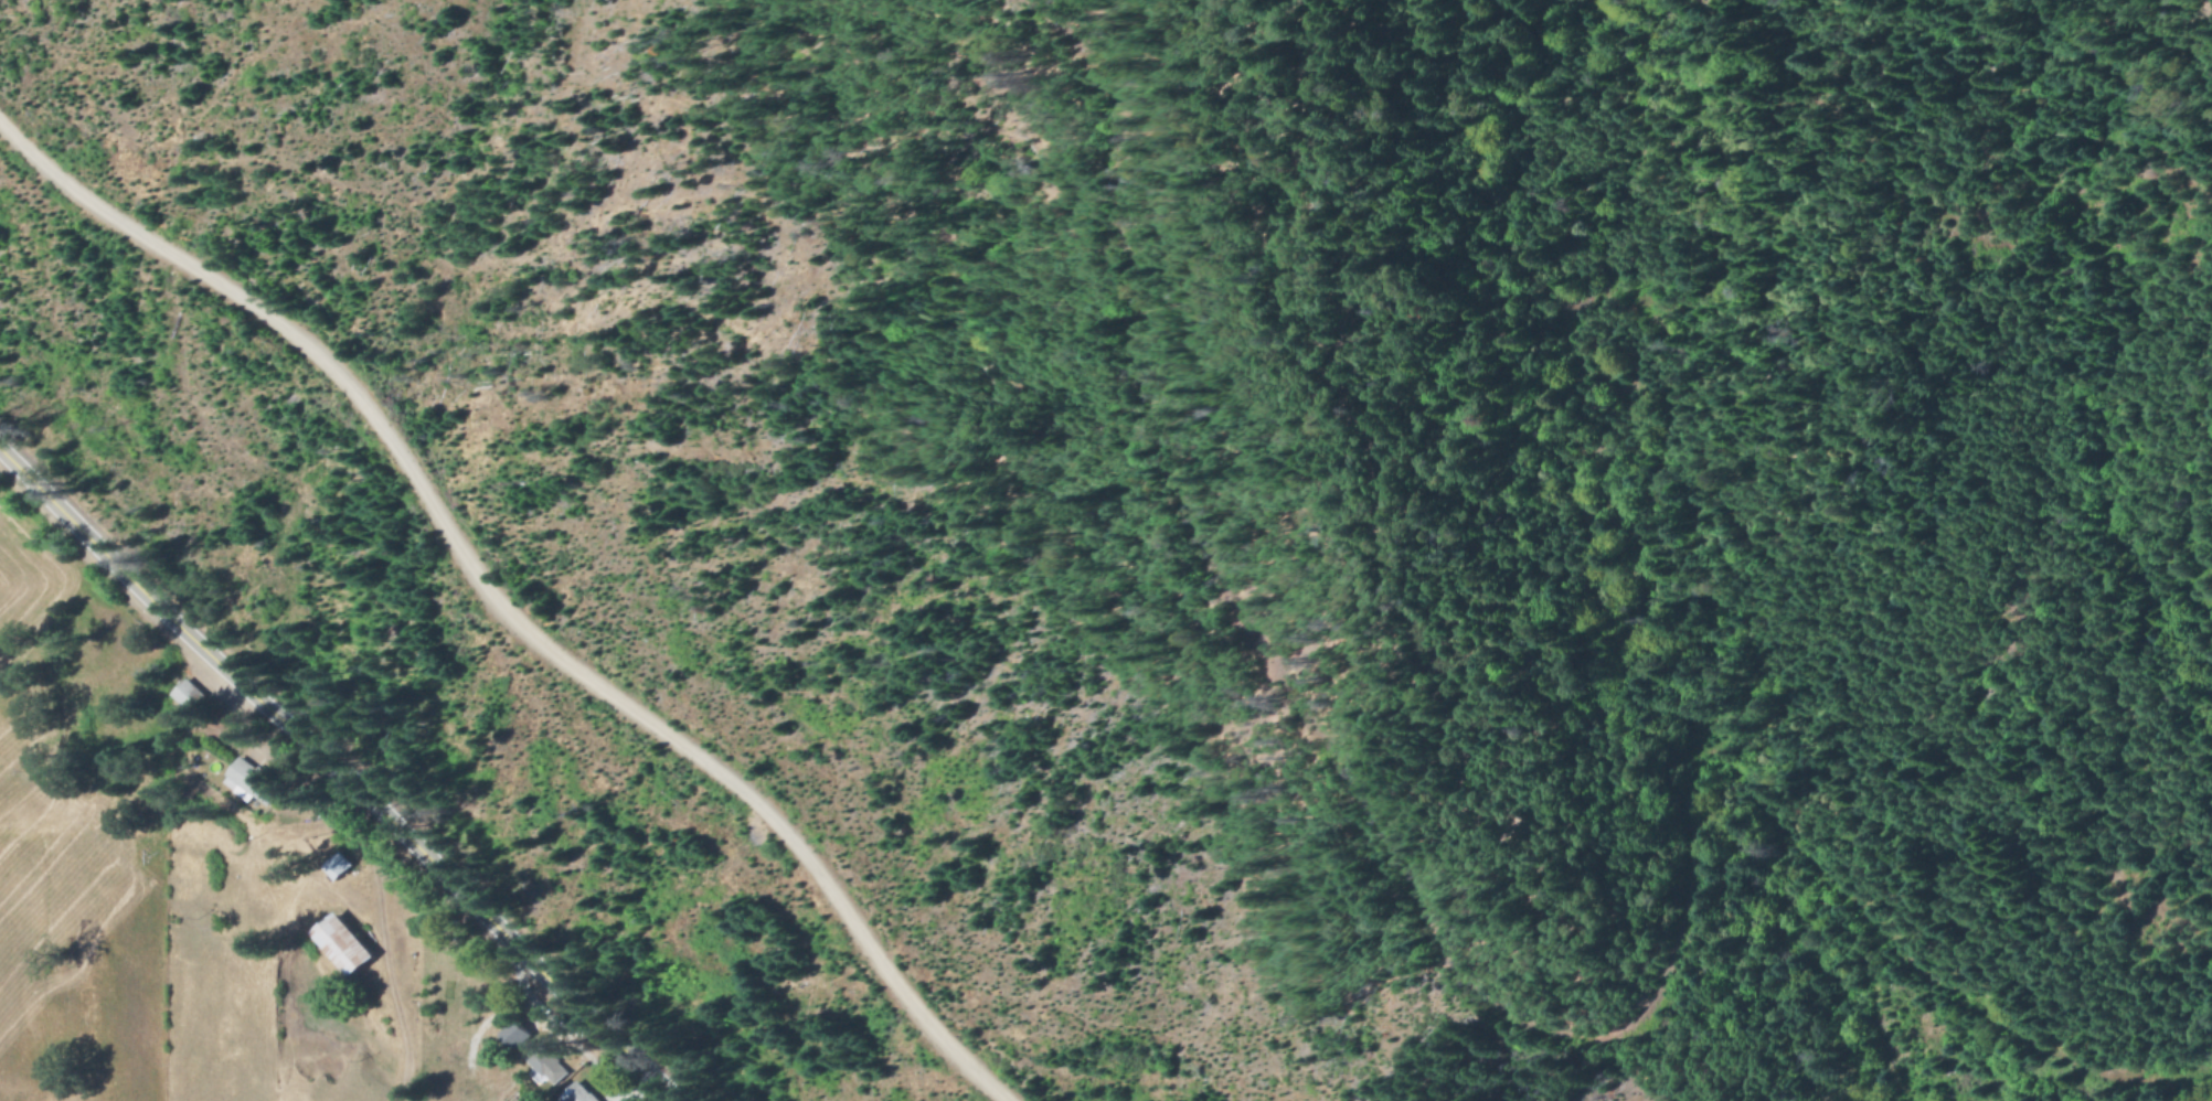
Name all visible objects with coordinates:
road: (501, 612)
building: (184, 694)
road: (336, 776)
building: (249, 783)
building: (333, 867)
building: (340, 945)
building: (512, 1036)
building: (543, 1067)
building: (575, 1093)

